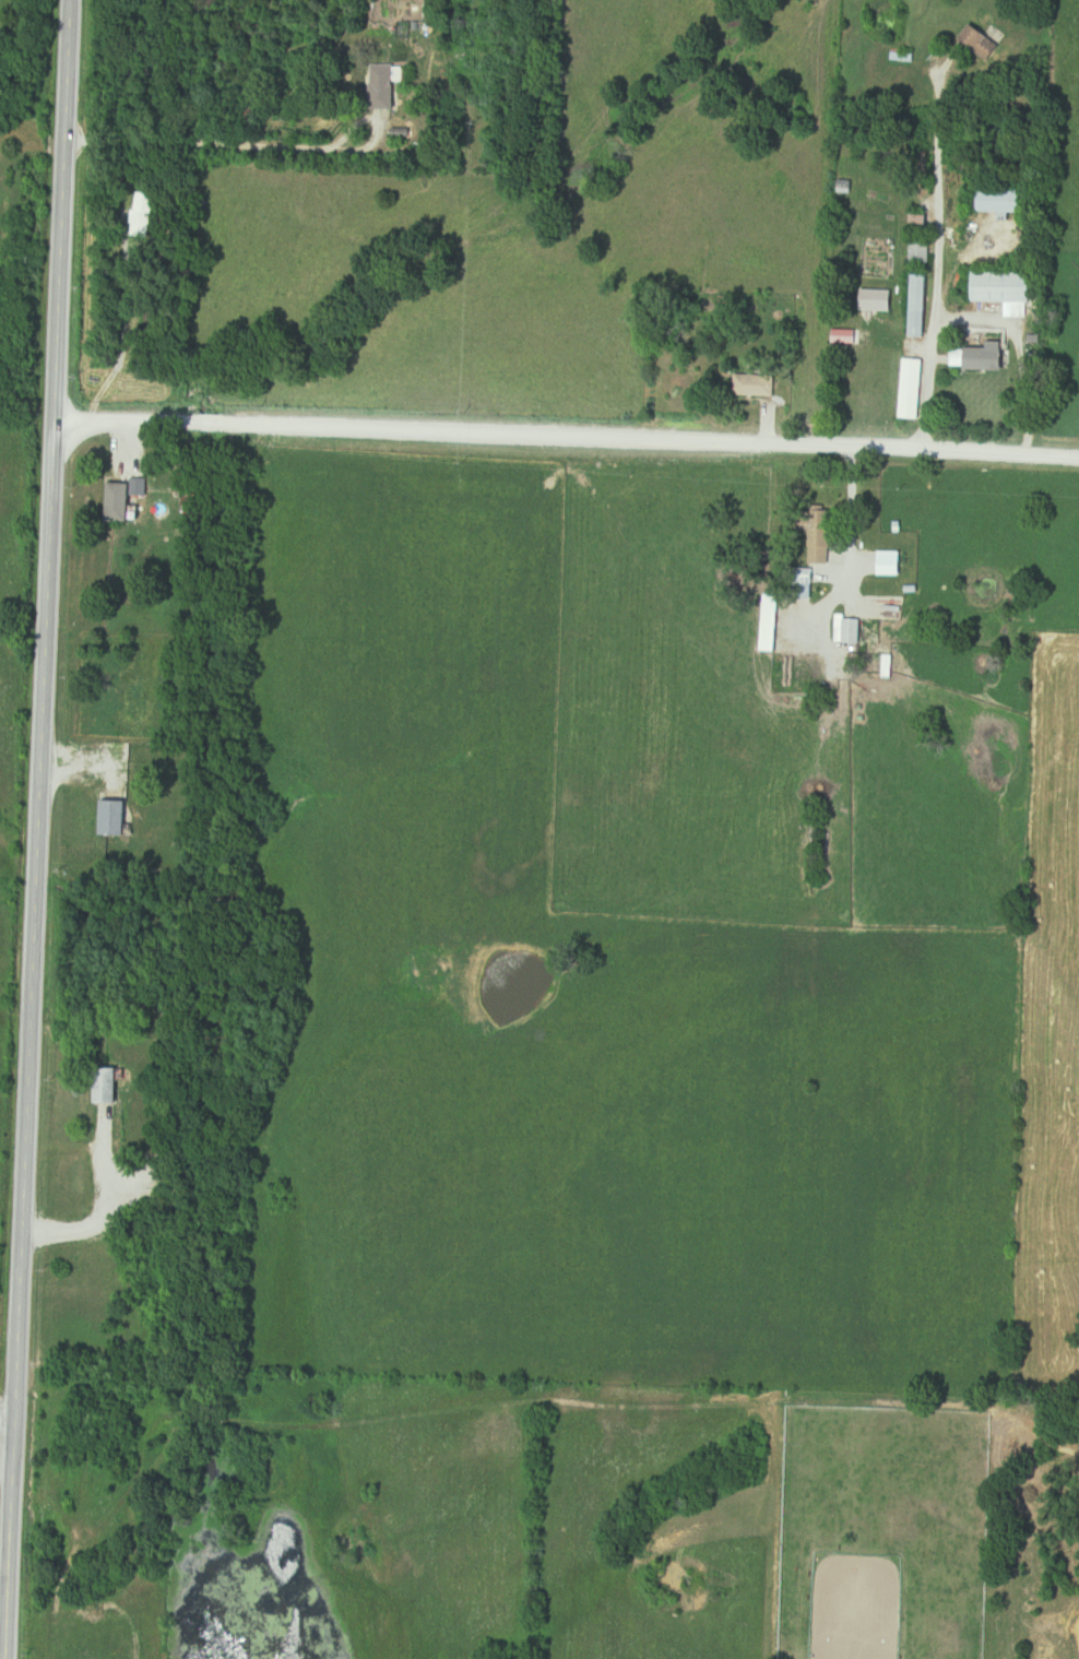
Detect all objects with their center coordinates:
building: (388, 86)
road: (259, 146)
road: (938, 189)
building: (1001, 201)
building: (147, 215)
building: (920, 252)
building: (1008, 289)
building: (877, 304)
building: (923, 306)
road: (977, 320)
building: (981, 359)
building: (915, 389)
road: (565, 439)
building: (123, 501)
road: (850, 514)
building: (896, 562)
building: (850, 629)
building: (774, 633)
building: (119, 818)
road: (35, 829)
building: (111, 1087)
road: (5, 1418)

